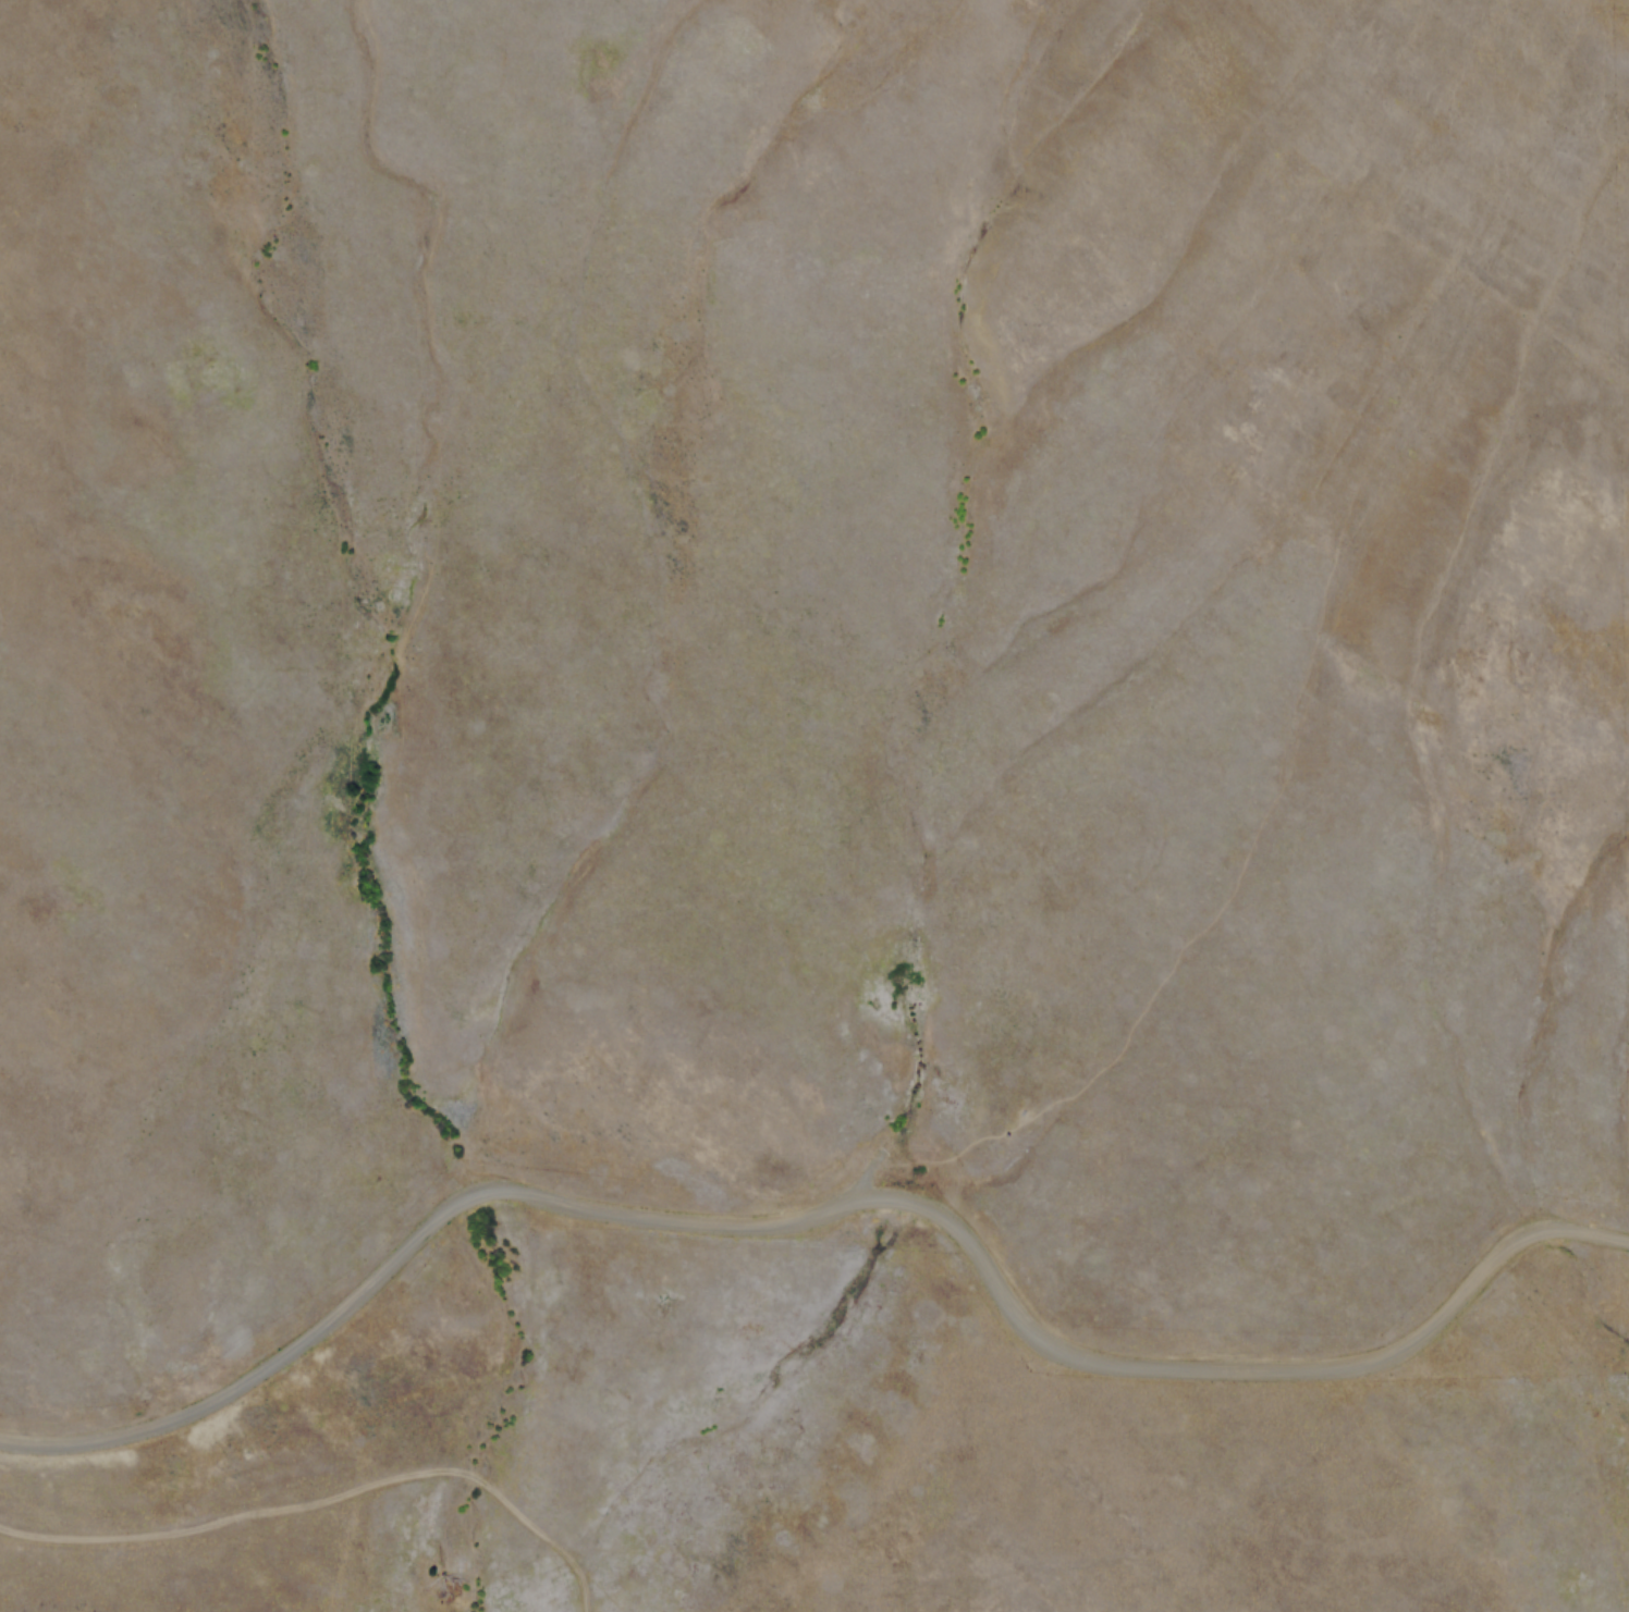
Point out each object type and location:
road: (831, 1205)
road: (326, 1500)

